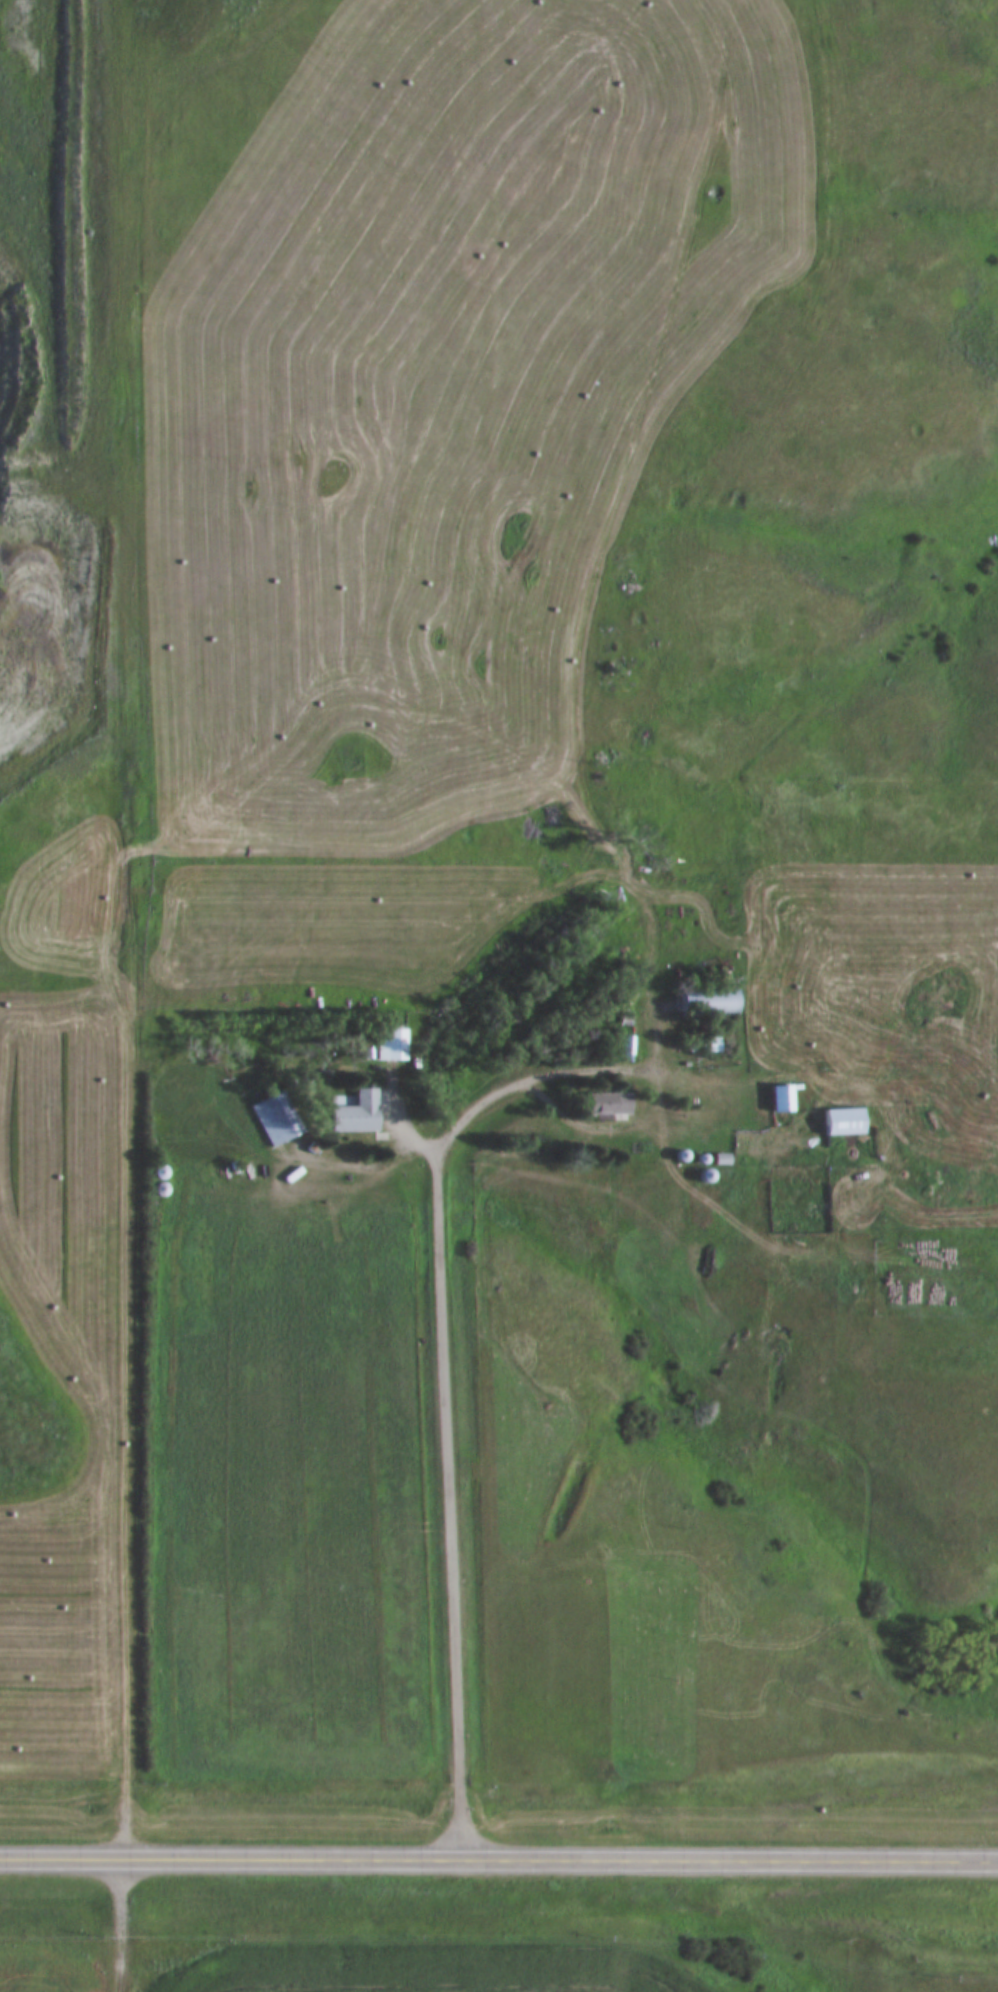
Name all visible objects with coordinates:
quarry: (39, 234)
road: (596, 542)
building: (700, 1003)
building: (388, 1045)
building: (779, 1099)
building: (602, 1105)
building: (349, 1114)
building: (837, 1124)
building: (270, 1125)
building: (716, 1161)
building: (163, 1183)
road: (443, 1289)
road: (131, 1527)
road: (499, 1859)

